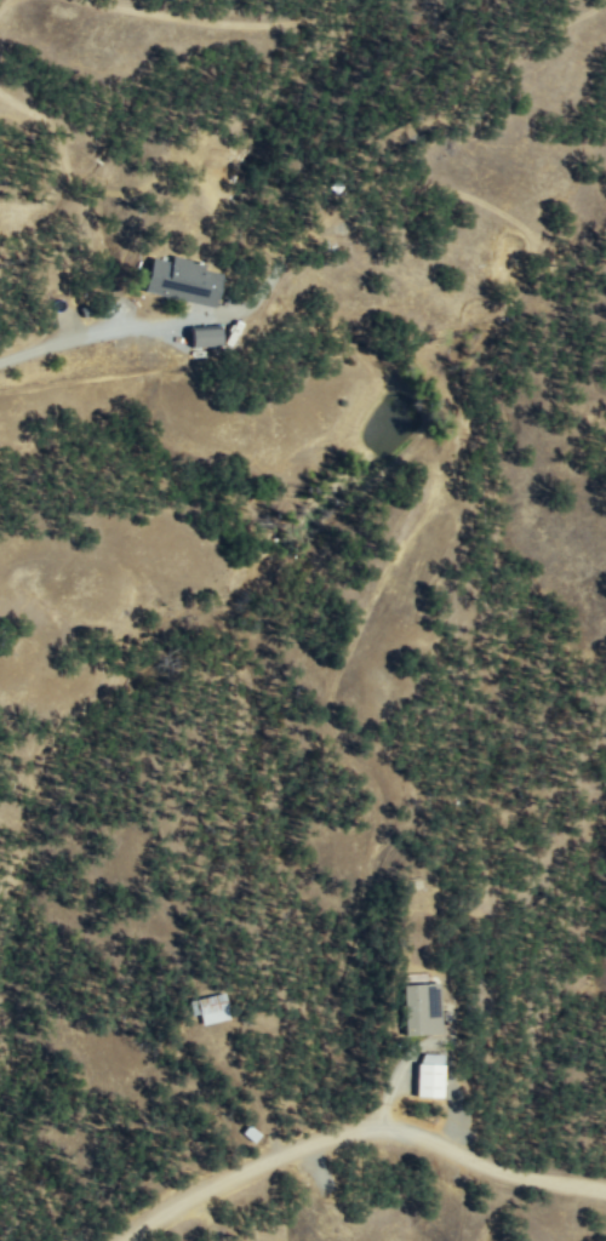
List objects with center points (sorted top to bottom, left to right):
building: (184, 281)
building: (206, 336)
building: (215, 1005)
building: (425, 1005)
building: (435, 1071)
road: (358, 1130)

